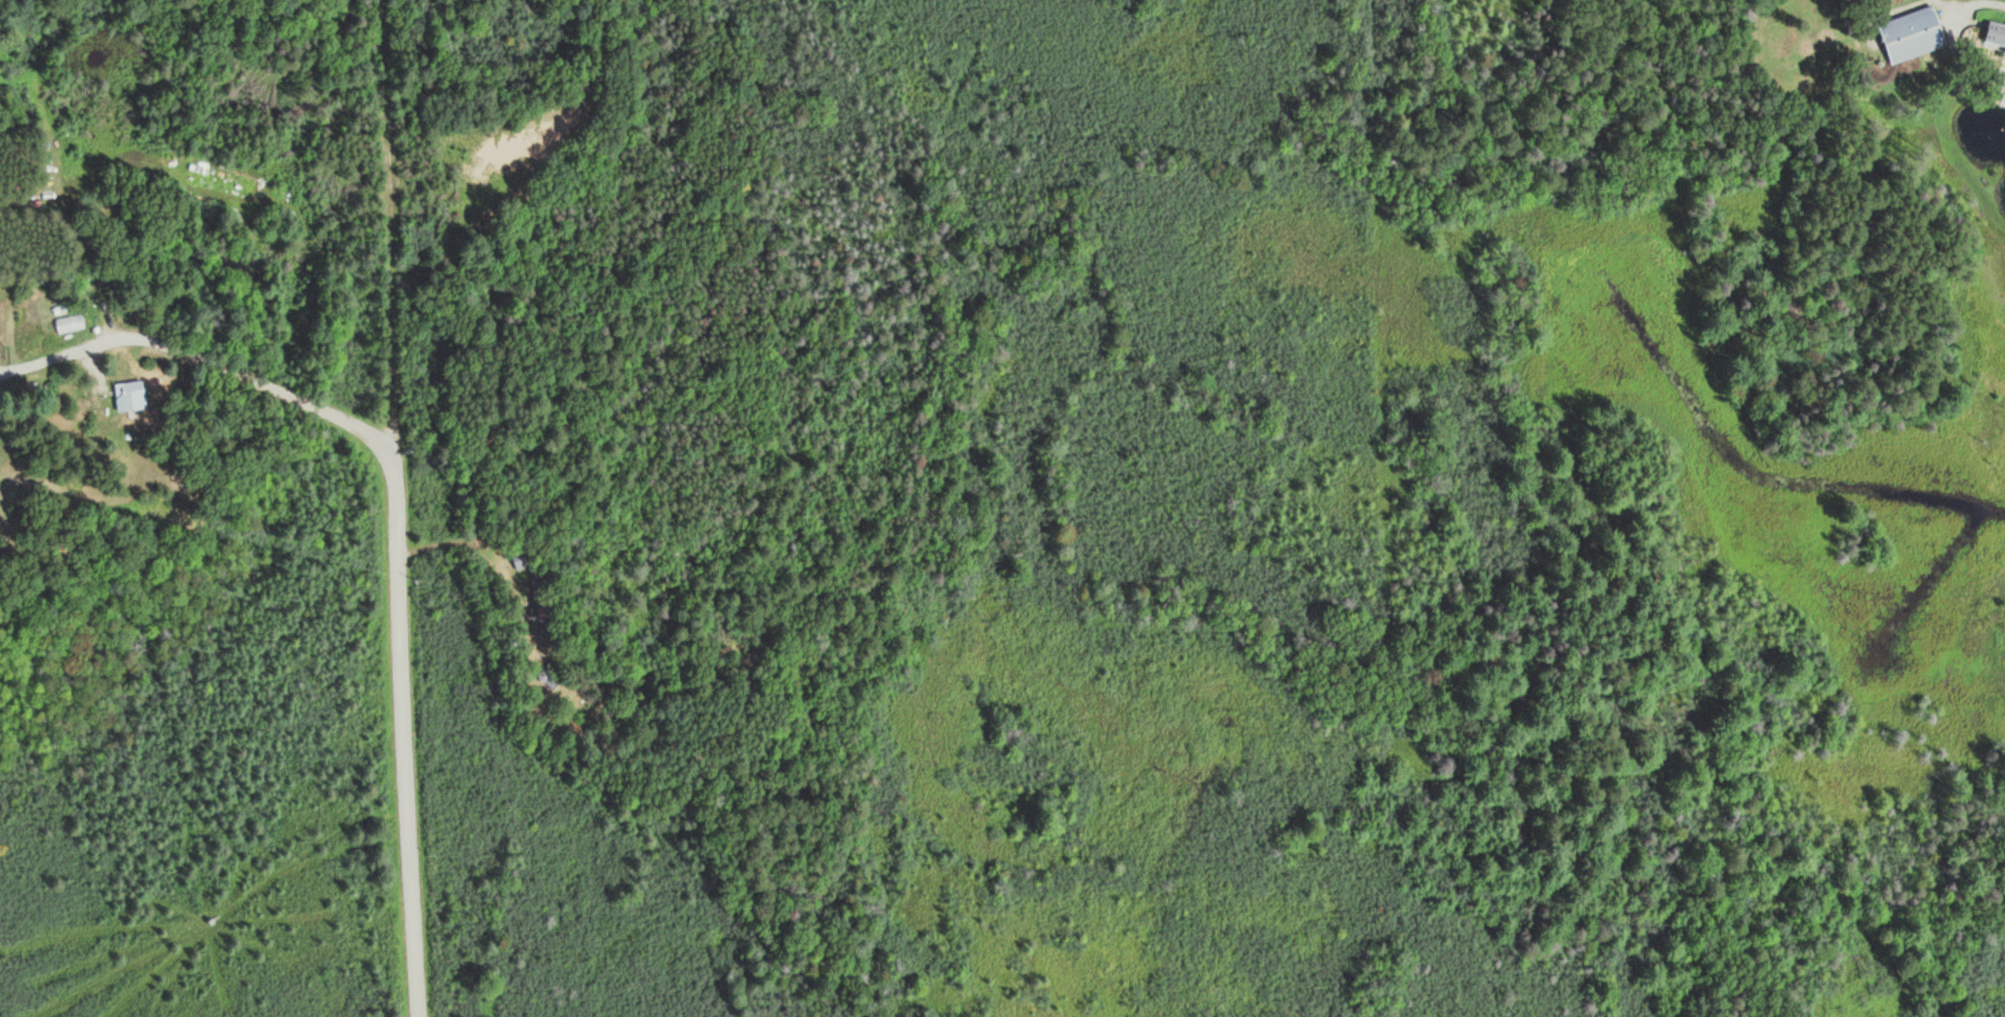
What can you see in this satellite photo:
road: (395, 223)
road: (397, 521)
road: (495, 554)

